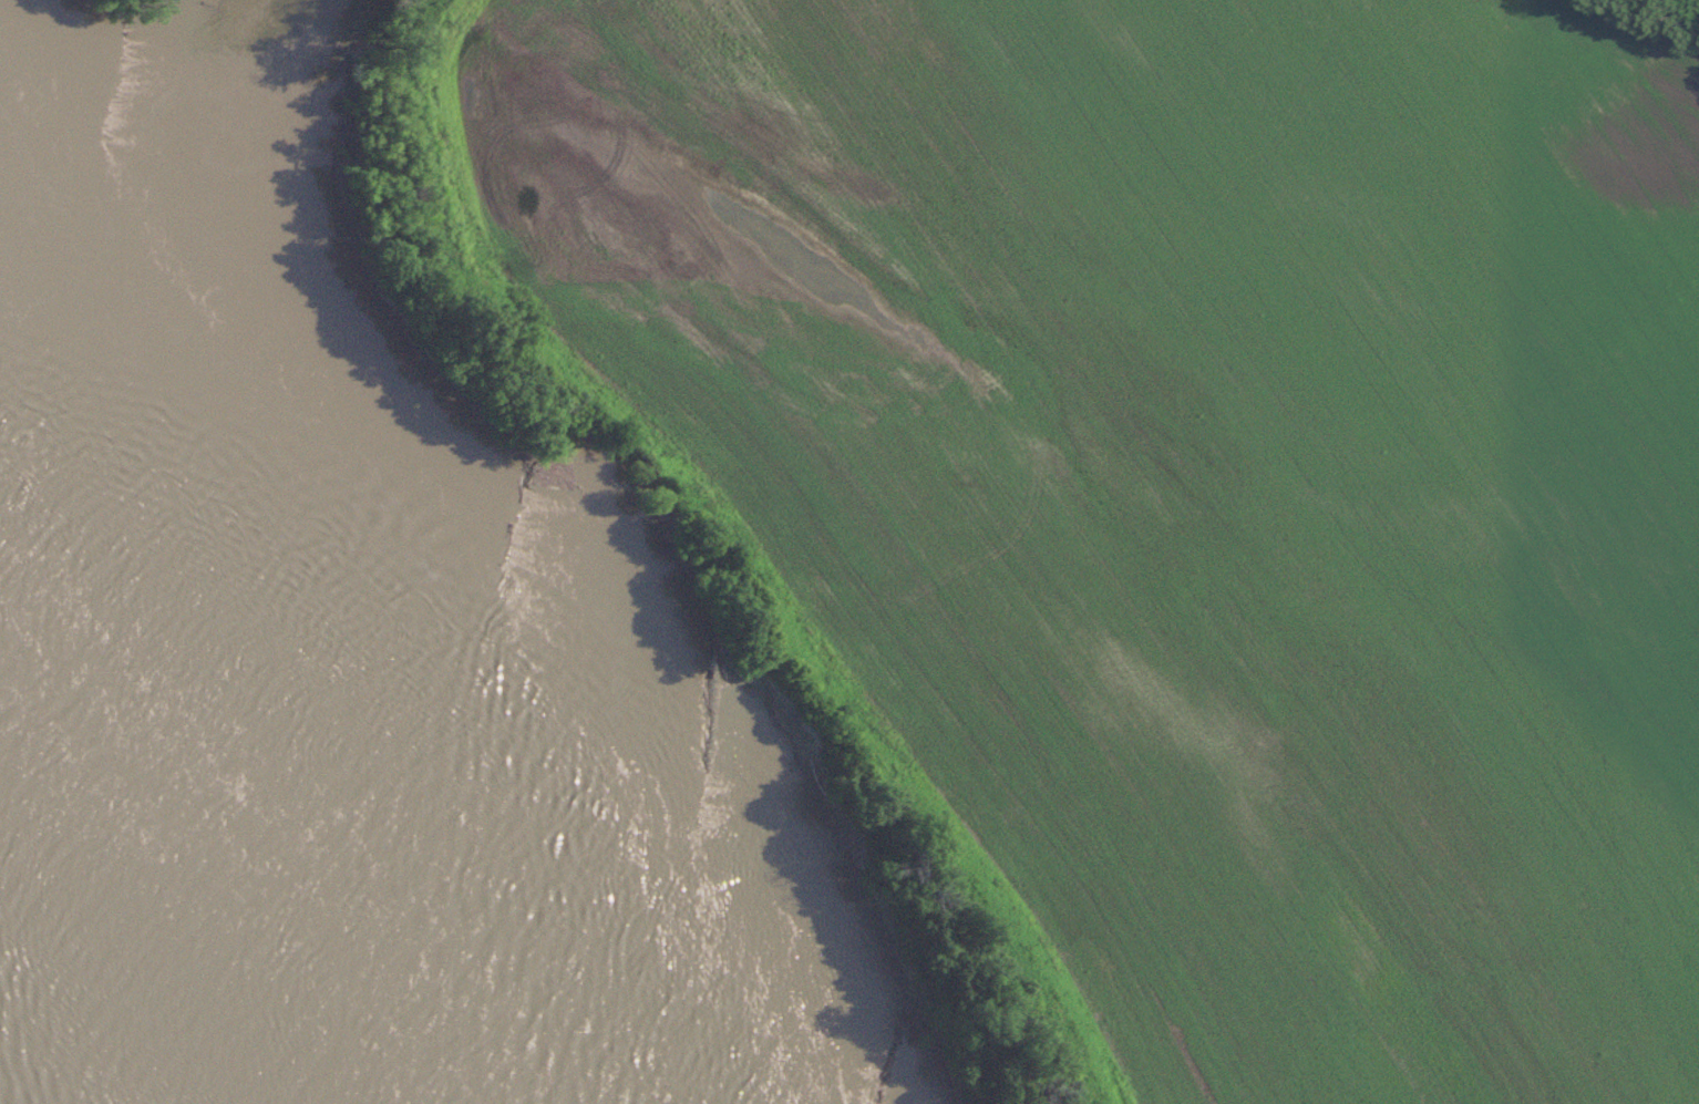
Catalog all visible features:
river: (153, 171)
crop: (1203, 475)
river: (133, 945)

